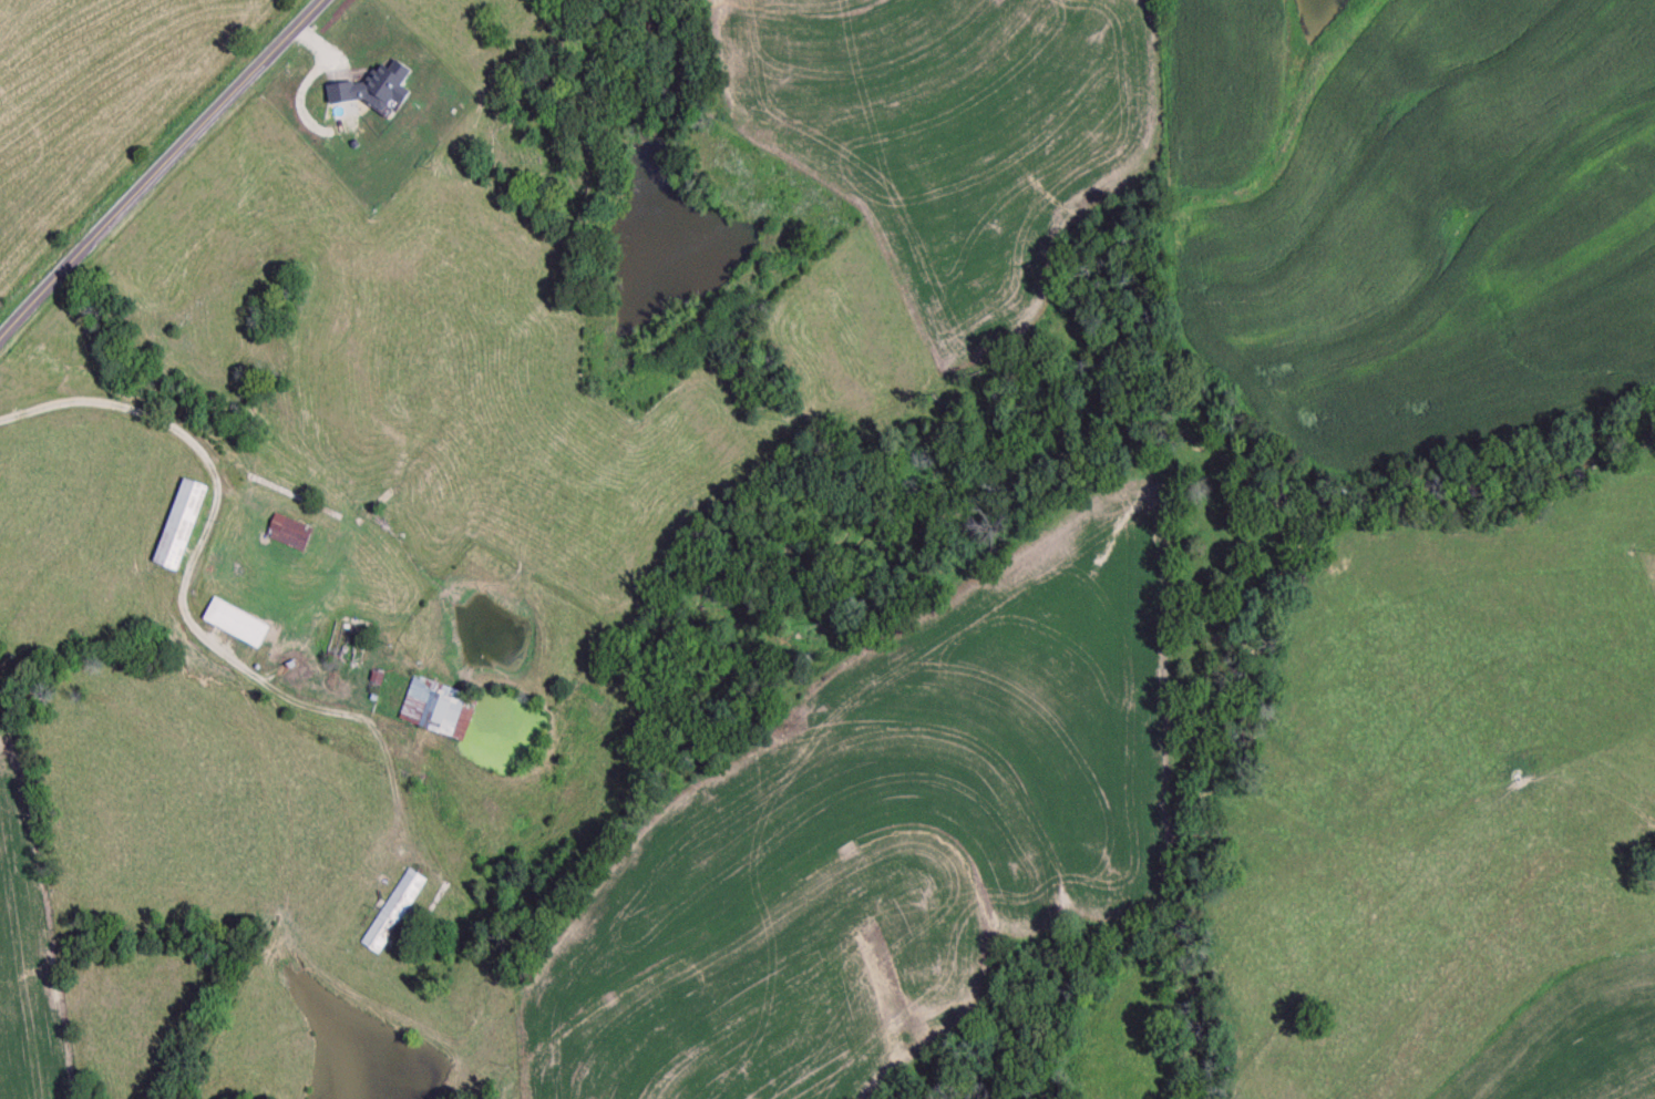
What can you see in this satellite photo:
road: (188, 194)
building: (183, 525)
building: (292, 534)
building: (239, 624)
building: (440, 709)
building: (394, 913)

